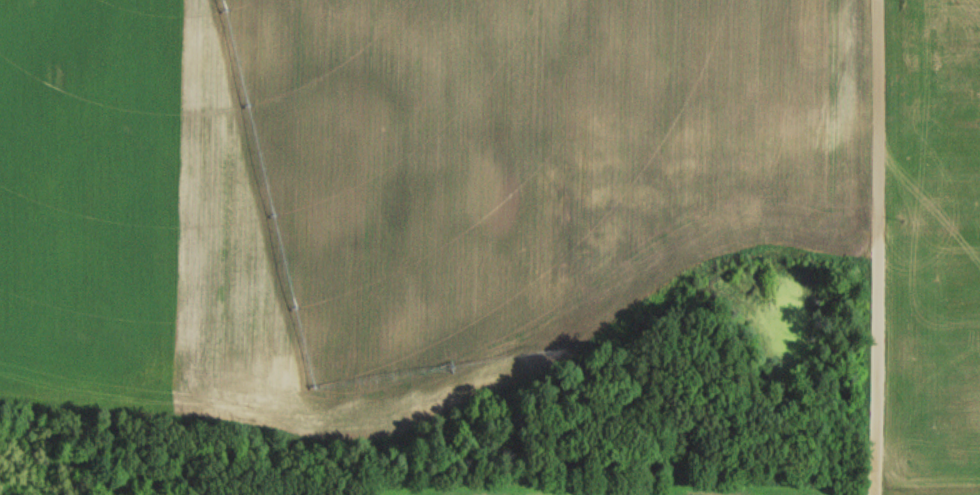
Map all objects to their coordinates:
road: (867, 247)

